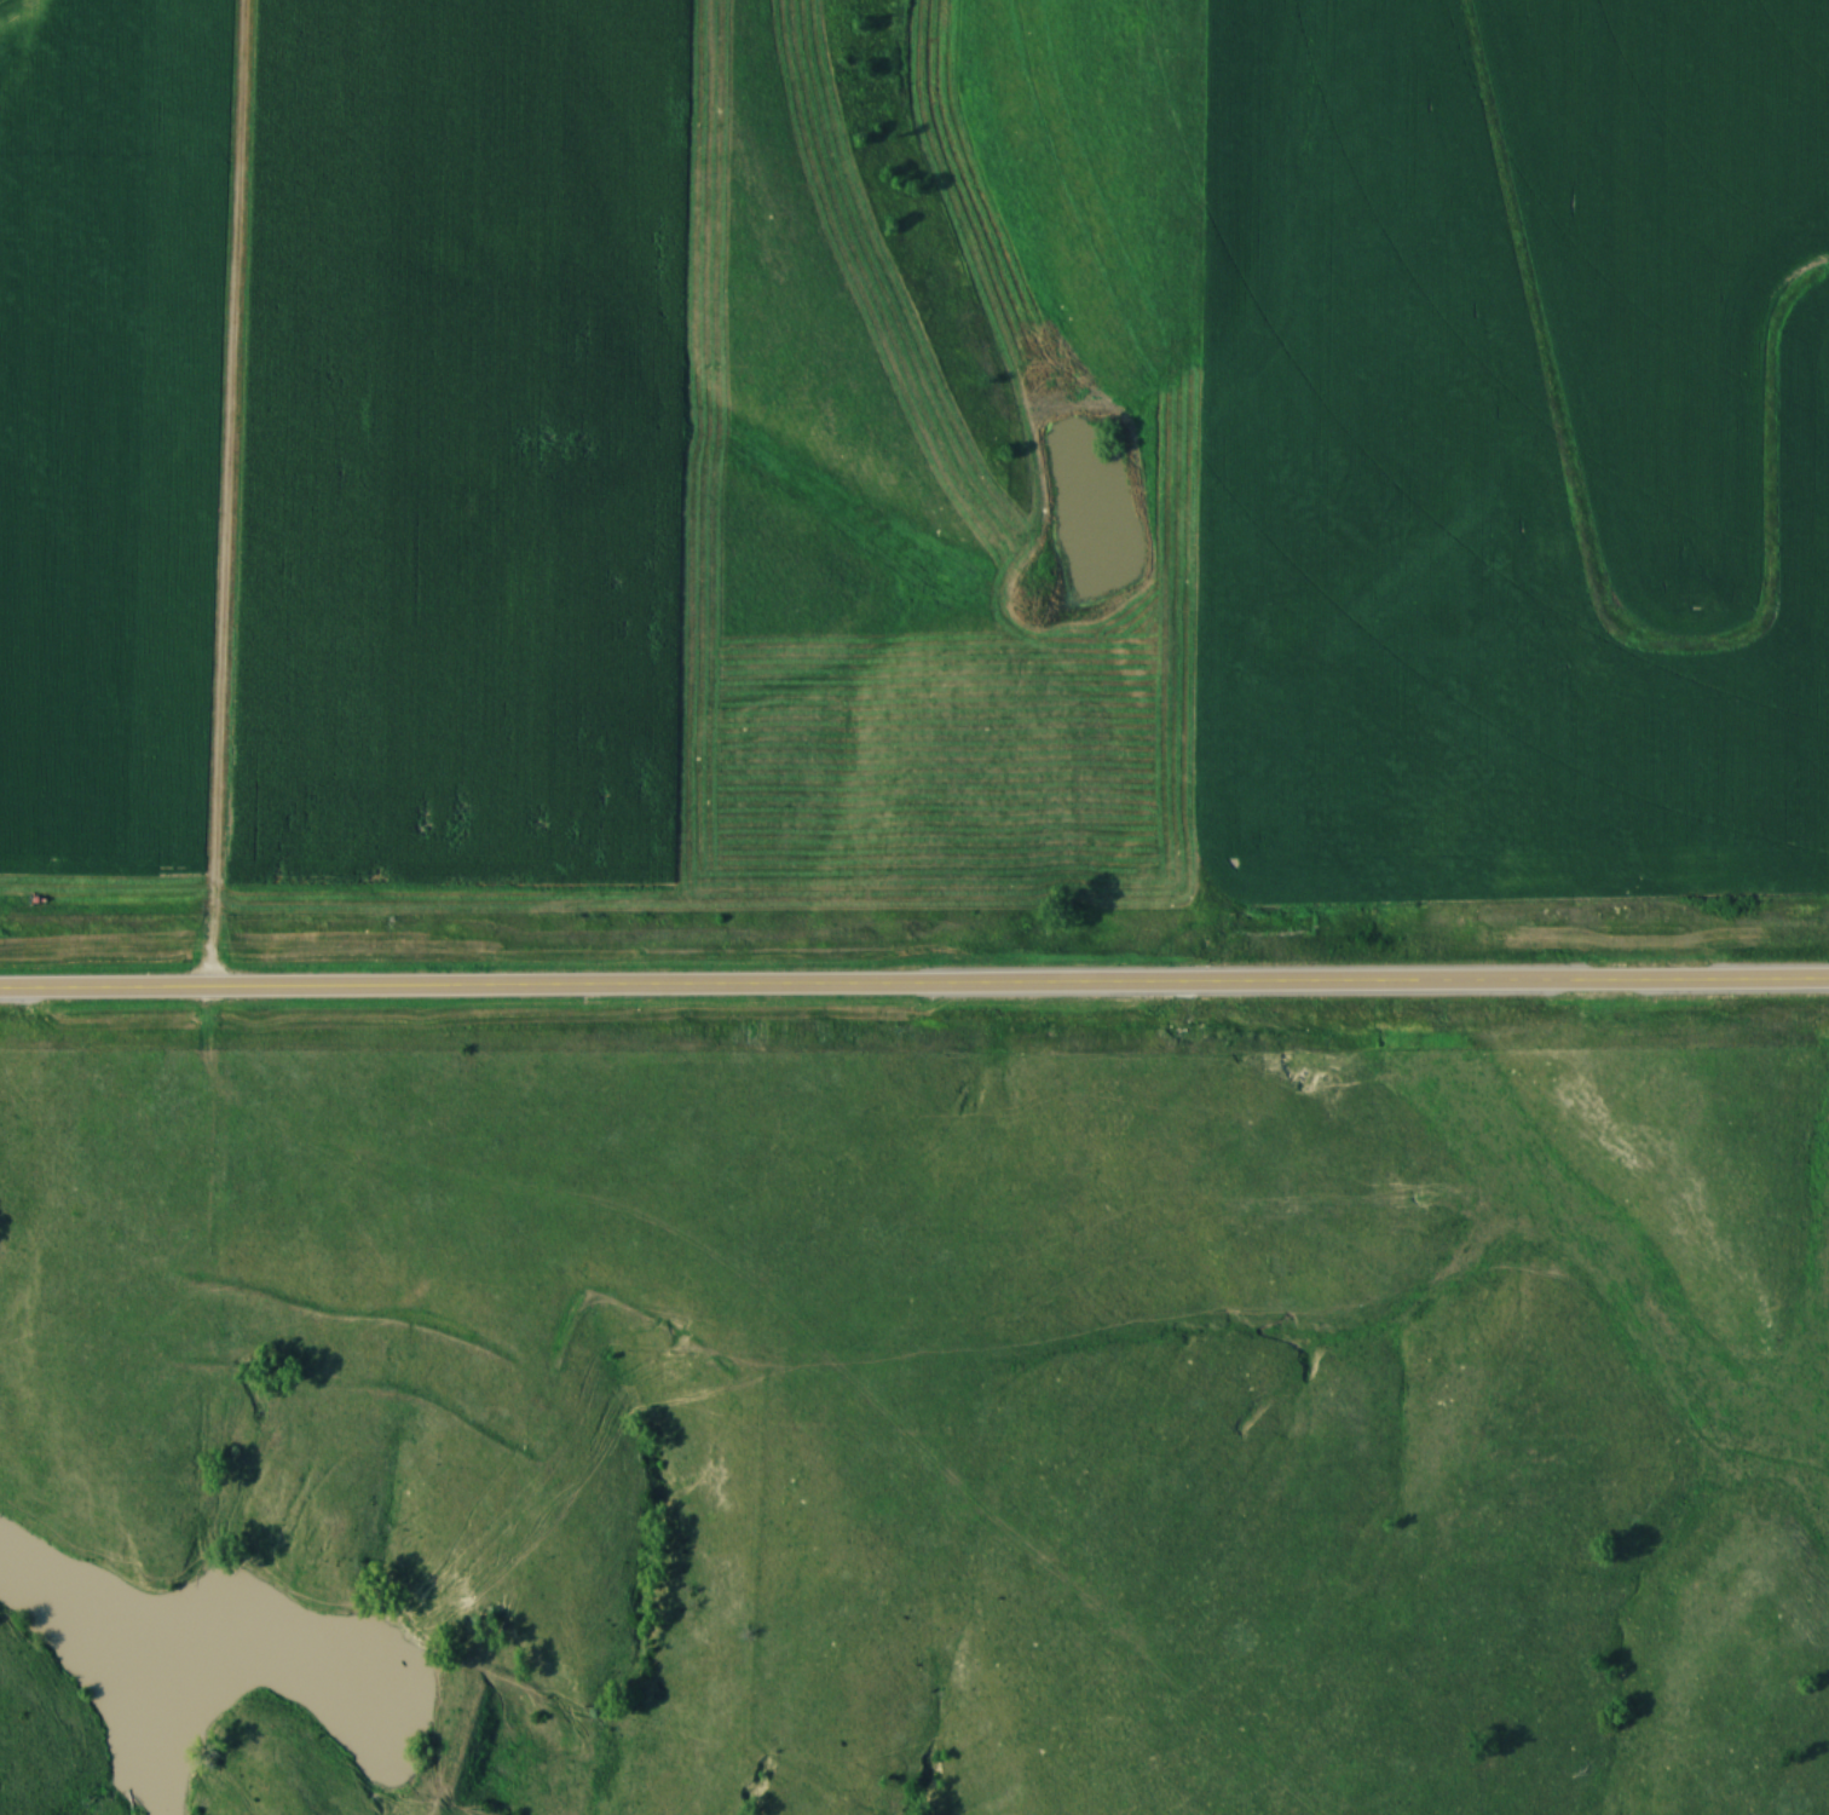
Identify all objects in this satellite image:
road: (223, 492)
road: (914, 989)

